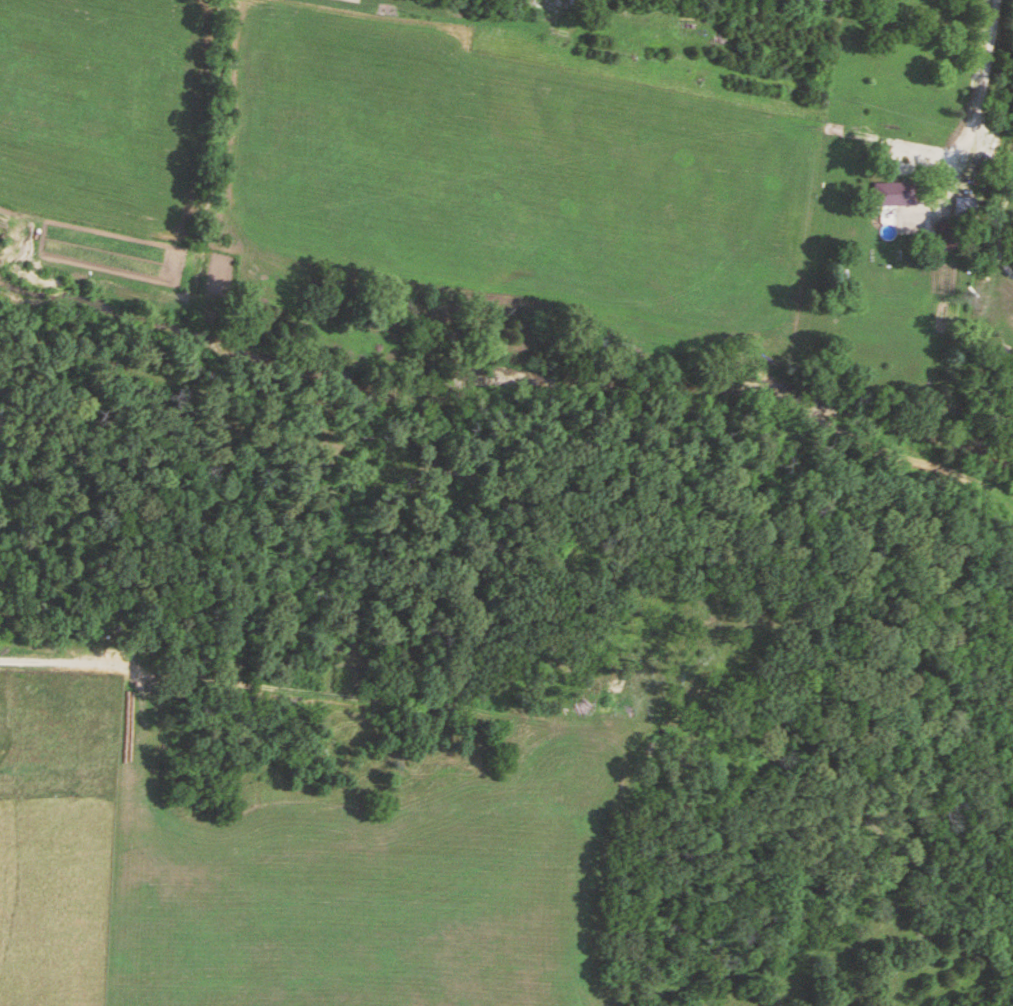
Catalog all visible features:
road: (977, 90)
building: (895, 193)
road: (996, 236)

